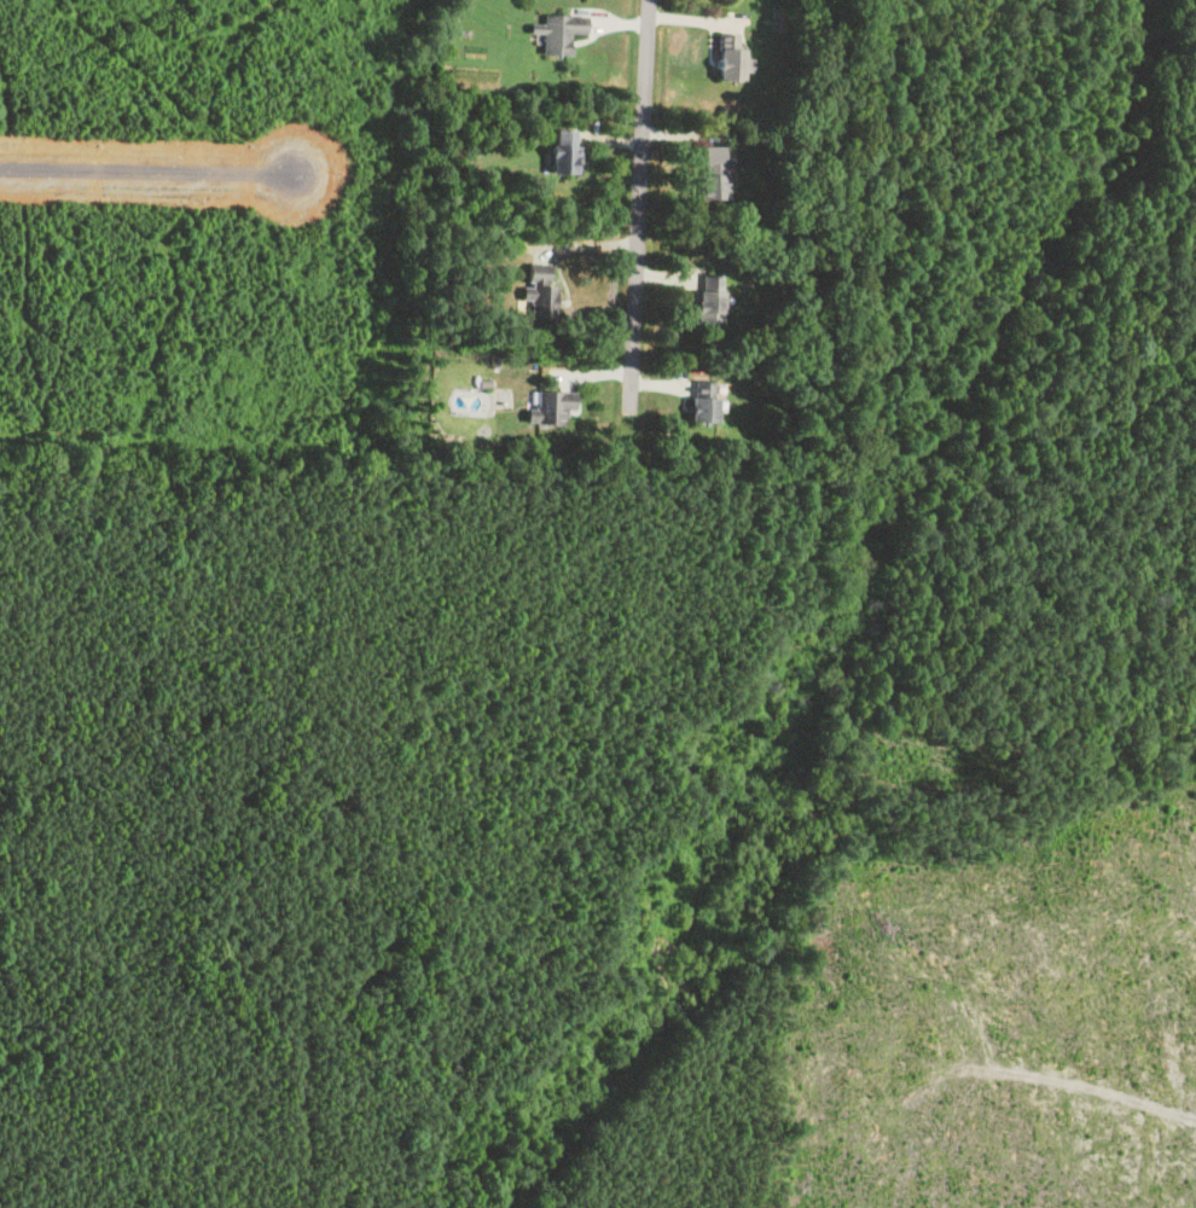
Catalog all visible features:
building: (557, 33)
building: (727, 56)
building: (561, 151)
road: (143, 165)
building: (712, 172)
road: (645, 232)
building: (538, 294)
building: (707, 300)
building: (701, 400)
building: (552, 406)

